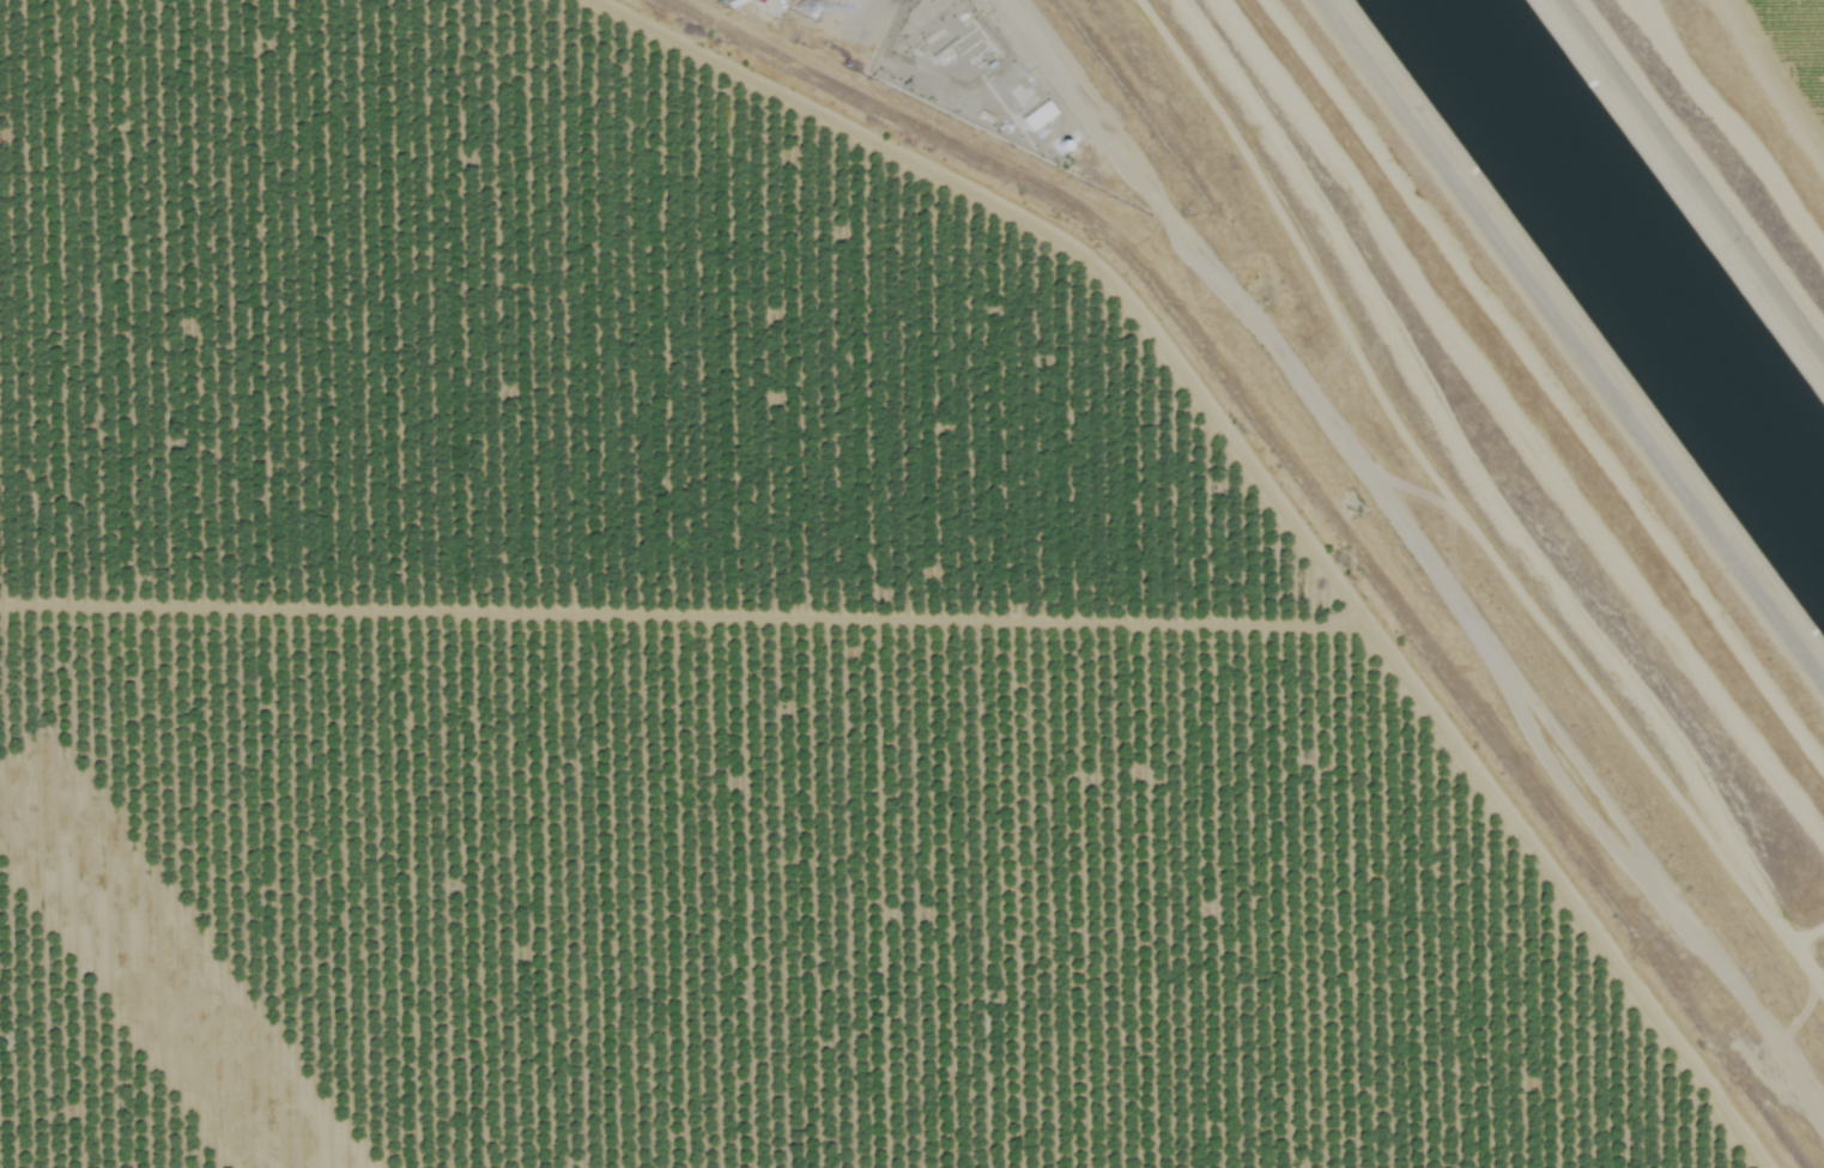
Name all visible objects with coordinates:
building: (1032, 114)
road: (1434, 532)

